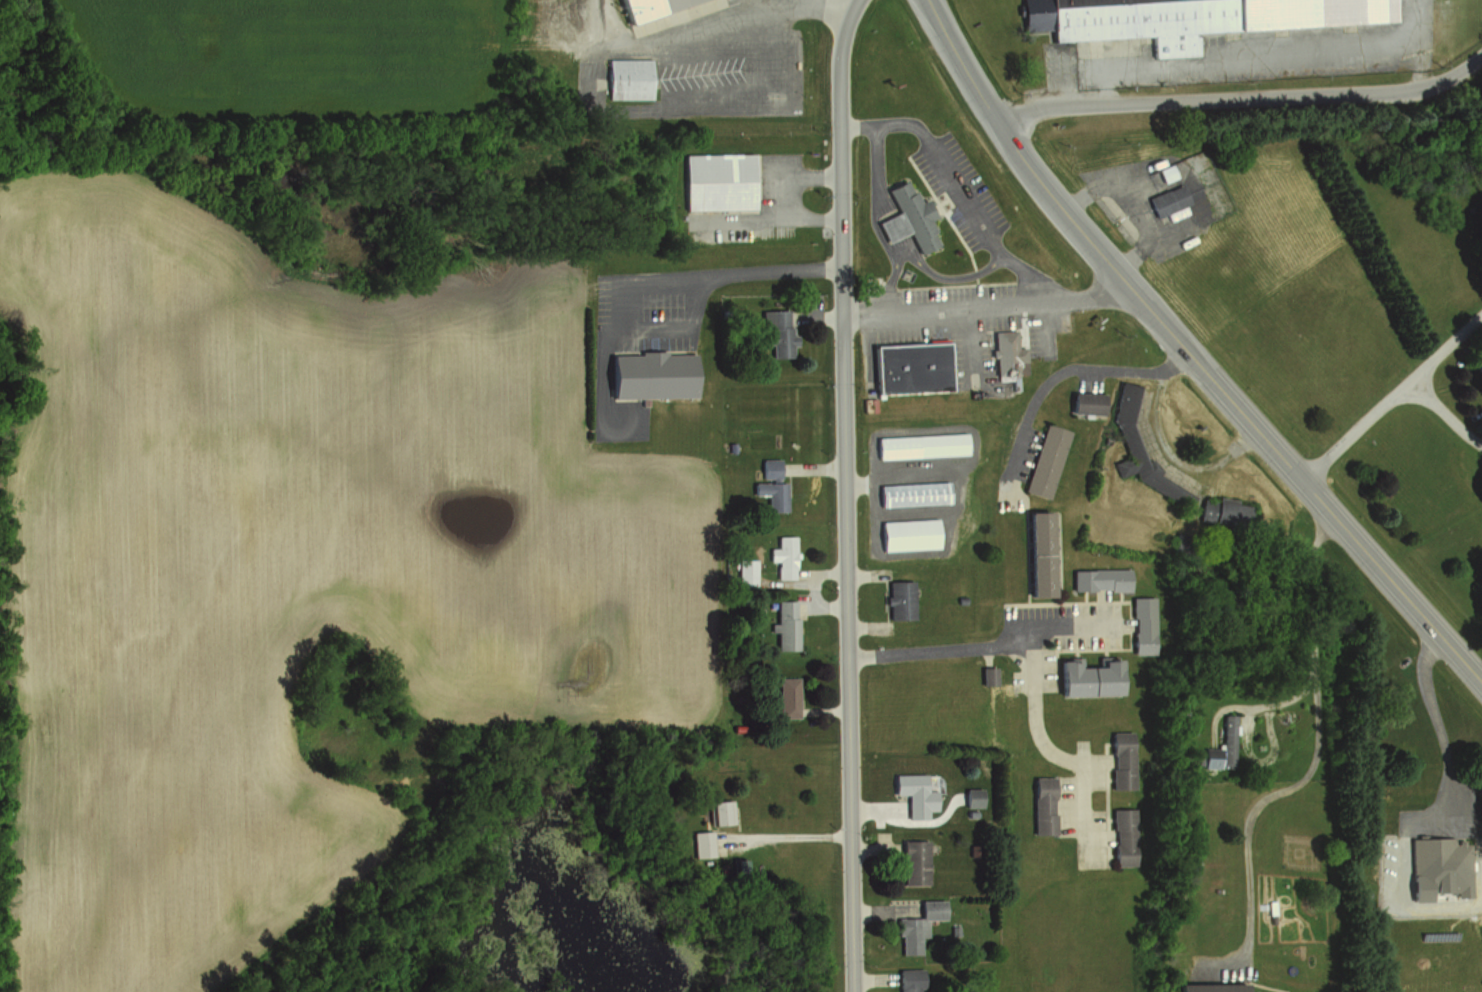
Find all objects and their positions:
road: (838, 5)
building: (649, 7)
building: (1189, 17)
road: (695, 35)
road: (1418, 43)
road: (1244, 59)
parking lot: (701, 72)
building: (629, 78)
road: (1242, 97)
road: (685, 104)
building: (1164, 173)
building: (720, 181)
road: (952, 186)
parking lot: (957, 187)
road: (872, 193)
road: (794, 198)
building: (1167, 198)
building: (905, 214)
road: (657, 271)
road: (947, 278)
road: (887, 283)
road: (984, 304)
parking lot: (646, 314)
road: (815, 318)
parking lot: (963, 319)
building: (776, 329)
building: (1005, 352)
road: (1187, 353)
road: (1072, 365)
building: (911, 367)
building: (654, 374)
road: (1391, 396)
building: (1084, 401)
road: (1444, 414)
building: (918, 444)
building: (730, 445)
building: (1139, 449)
road: (1172, 456)
building: (1045, 458)
road: (811, 467)
building: (771, 483)
building: (913, 492)
road: (842, 494)
building: (1221, 508)
building: (907, 533)
building: (1181, 543)
building: (754, 550)
building: (1036, 551)
building: (782, 554)
building: (743, 570)
crop: (290, 577)
building: (1098, 578)
road: (811, 587)
building: (899, 598)
road: (884, 601)
building: (757, 603)
building: (1141, 620)
building: (783, 624)
road: (1071, 625)
parking lot: (1053, 635)
road: (1028, 656)
building: (1086, 675)
building: (785, 695)
road: (1254, 702)
road: (824, 709)
road: (1438, 718)
building: (736, 726)
road: (1317, 726)
building: (1225, 738)
building: (1209, 755)
building: (1120, 757)
building: (912, 793)
building: (971, 796)
building: (1040, 805)
building: (717, 811)
building: (969, 812)
road: (904, 821)
road: (787, 834)
building: (1121, 836)
building: (700, 843)
road: (866, 848)
building: (1438, 858)
building: (910, 859)
building: (739, 865)
road: (878, 908)
building: (915, 923)
building: (951, 930)
road: (870, 977)
building: (907, 979)
building: (1211, 987)

